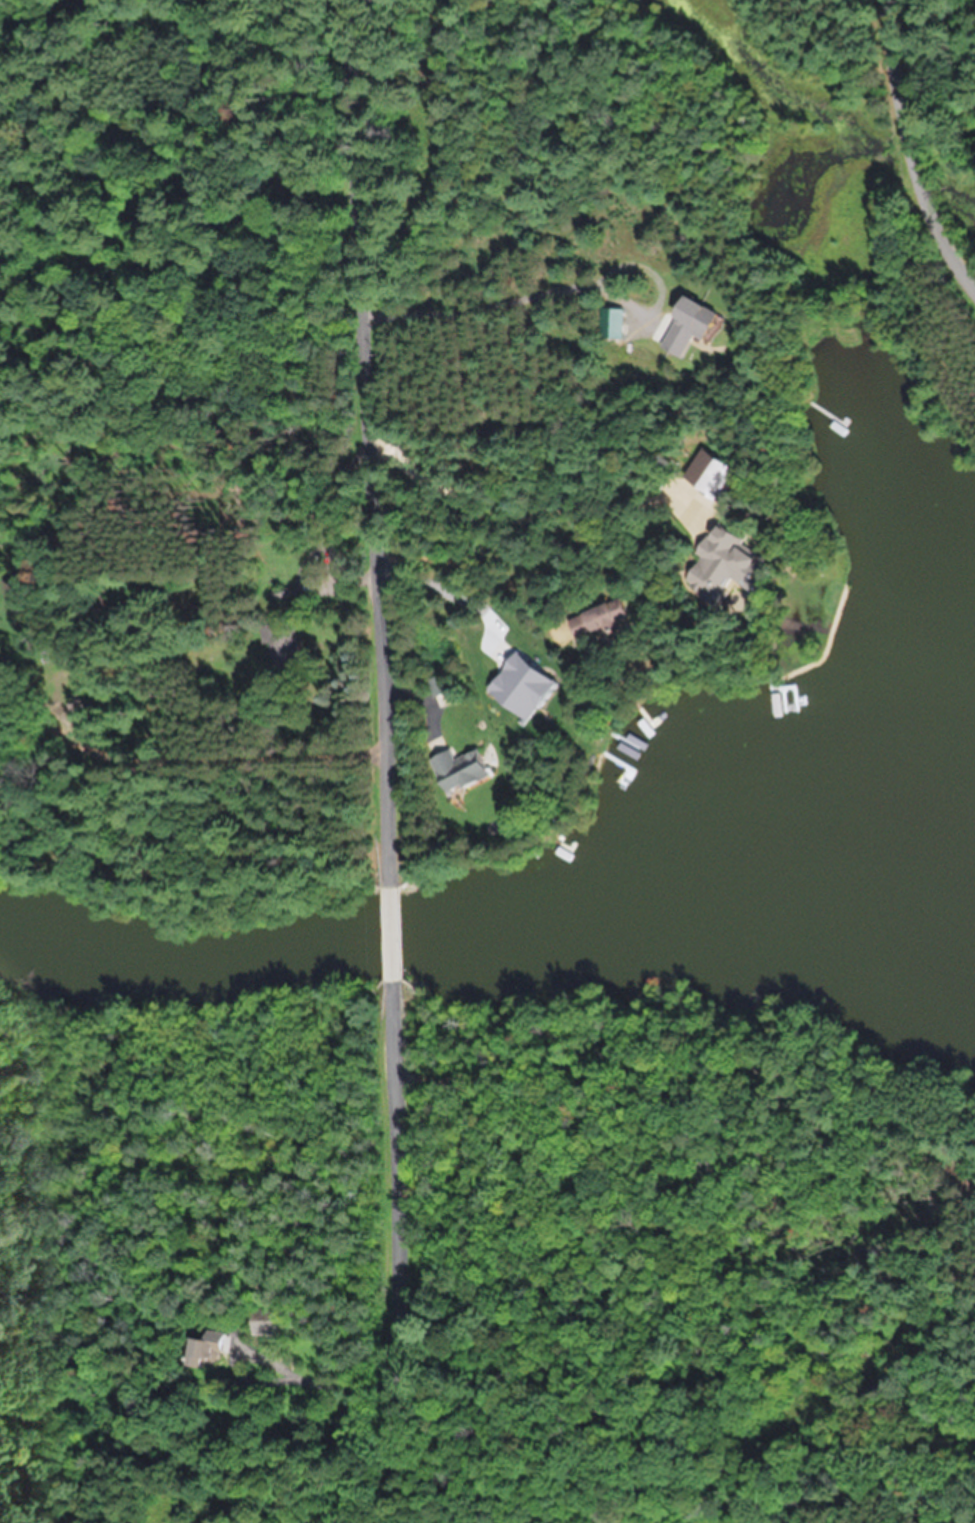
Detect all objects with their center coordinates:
road: (916, 146)
road: (379, 442)
building: (720, 565)
building: (596, 619)
building: (282, 644)
building: (441, 689)
building: (458, 767)
river: (490, 926)
road: (394, 934)
road: (937, 1172)
road: (409, 1252)
park: (684, 1269)
building: (267, 1321)
building: (206, 1350)

